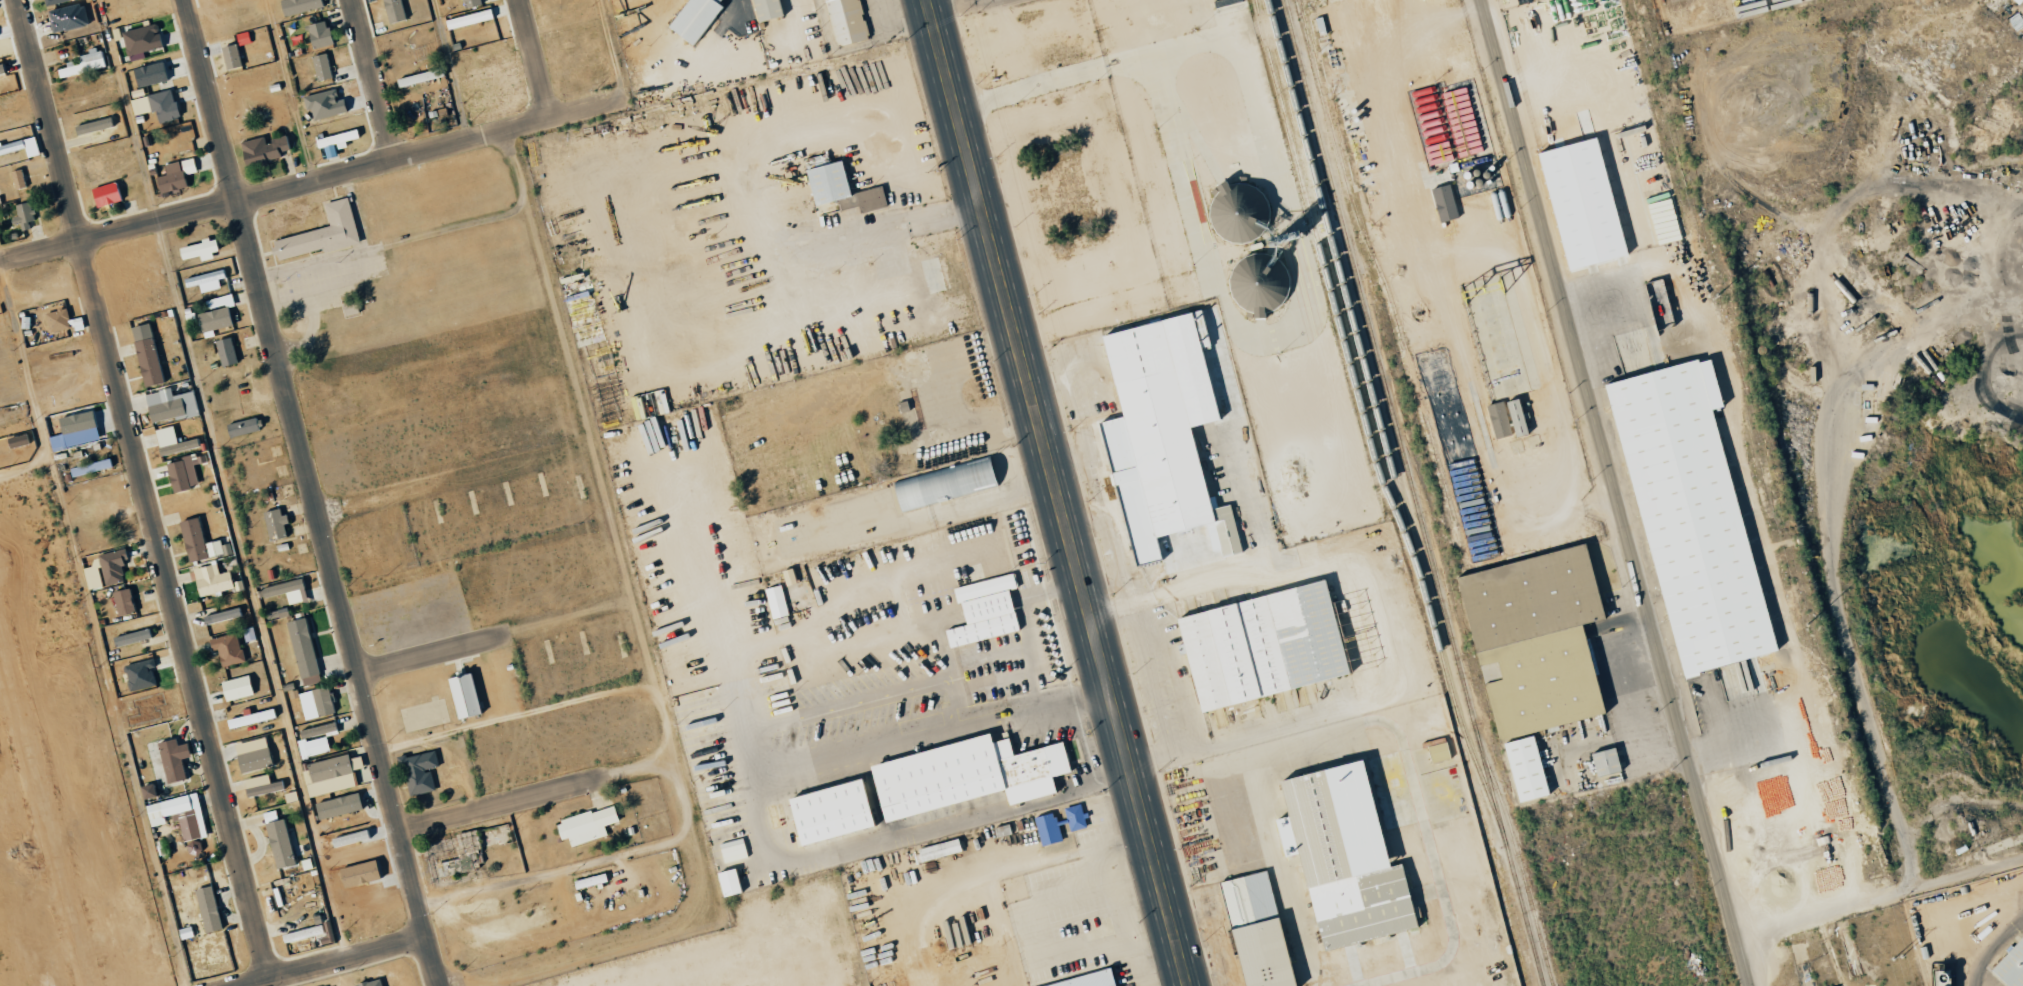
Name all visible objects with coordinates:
building: (2016, 1)
building: (53, 2)
building: (469, 3)
building: (299, 6)
building: (764, 9)
building: (393, 10)
building: (467, 19)
building: (693, 19)
building: (844, 21)
building: (318, 34)
building: (140, 39)
building: (229, 56)
road: (538, 59)
building: (82, 64)
building: (320, 66)
building: (1, 68)
road: (448, 71)
building: (148, 74)
building: (418, 77)
road: (375, 80)
building: (155, 106)
building: (91, 126)
building: (335, 139)
building: (20, 147)
building: (263, 150)
building: (174, 175)
building: (17, 179)
road: (315, 181)
building: (839, 189)
building: (104, 194)
building: (1443, 203)
building: (1579, 203)
building: (1236, 212)
building: (20, 214)
road: (880, 230)
building: (320, 233)
building: (197, 249)
railway: (1374, 259)
building: (935, 274)
building: (202, 278)
railway: (1329, 285)
power tower: (1717, 295)
road: (383, 303)
building: (349, 308)
building: (57, 319)
building: (213, 319)
building: (224, 351)
building: (146, 354)
building: (169, 405)
railway: (1378, 416)
building: (1514, 418)
building: (1497, 420)
building: (76, 421)
building: (242, 426)
building: (1159, 435)
building: (172, 441)
railway: (1412, 458)
building: (89, 467)
building: (181, 474)
road: (4, 479)
building: (941, 484)
road: (432, 486)
road: (146, 488)
road: (1616, 492)
road: (315, 493)
road: (1055, 493)
railway: (1412, 493)
building: (1688, 517)
building: (277, 521)
road: (586, 524)
building: (196, 541)
building: (112, 565)
building: (92, 577)
building: (210, 580)
road: (247, 591)
building: (284, 591)
building: (122, 602)
building: (775, 602)
building: (982, 611)
building: (221, 615)
power tower: (1807, 624)
building: (1294, 636)
building: (130, 637)
road: (497, 638)
building: (1531, 640)
building: (301, 647)
building: (226, 649)
building: (1214, 659)
building: (140, 674)
building: (235, 687)
building: (461, 696)
building: (321, 701)
building: (249, 718)
building: (300, 740)
building: (1436, 750)
building: (251, 755)
building: (171, 759)
building: (1603, 762)
building: (1523, 768)
building: (418, 772)
building: (329, 774)
building: (962, 775)
building: (259, 785)
building: (146, 792)
road: (538, 797)
building: (336, 806)
building: (826, 812)
building: (177, 815)
building: (584, 825)
building: (1046, 829)
building: (278, 843)
building: (732, 850)
building: (936, 850)
building: (1341, 857)
railway: (1521, 867)
road: (557, 869)
building: (588, 881)
building: (726, 882)
building: (206, 909)
building: (1253, 930)
road: (578, 941)
power tower: (1897, 958)
road: (331, 961)
building: (2010, 965)
building: (1085, 980)
building: (369, 983)

